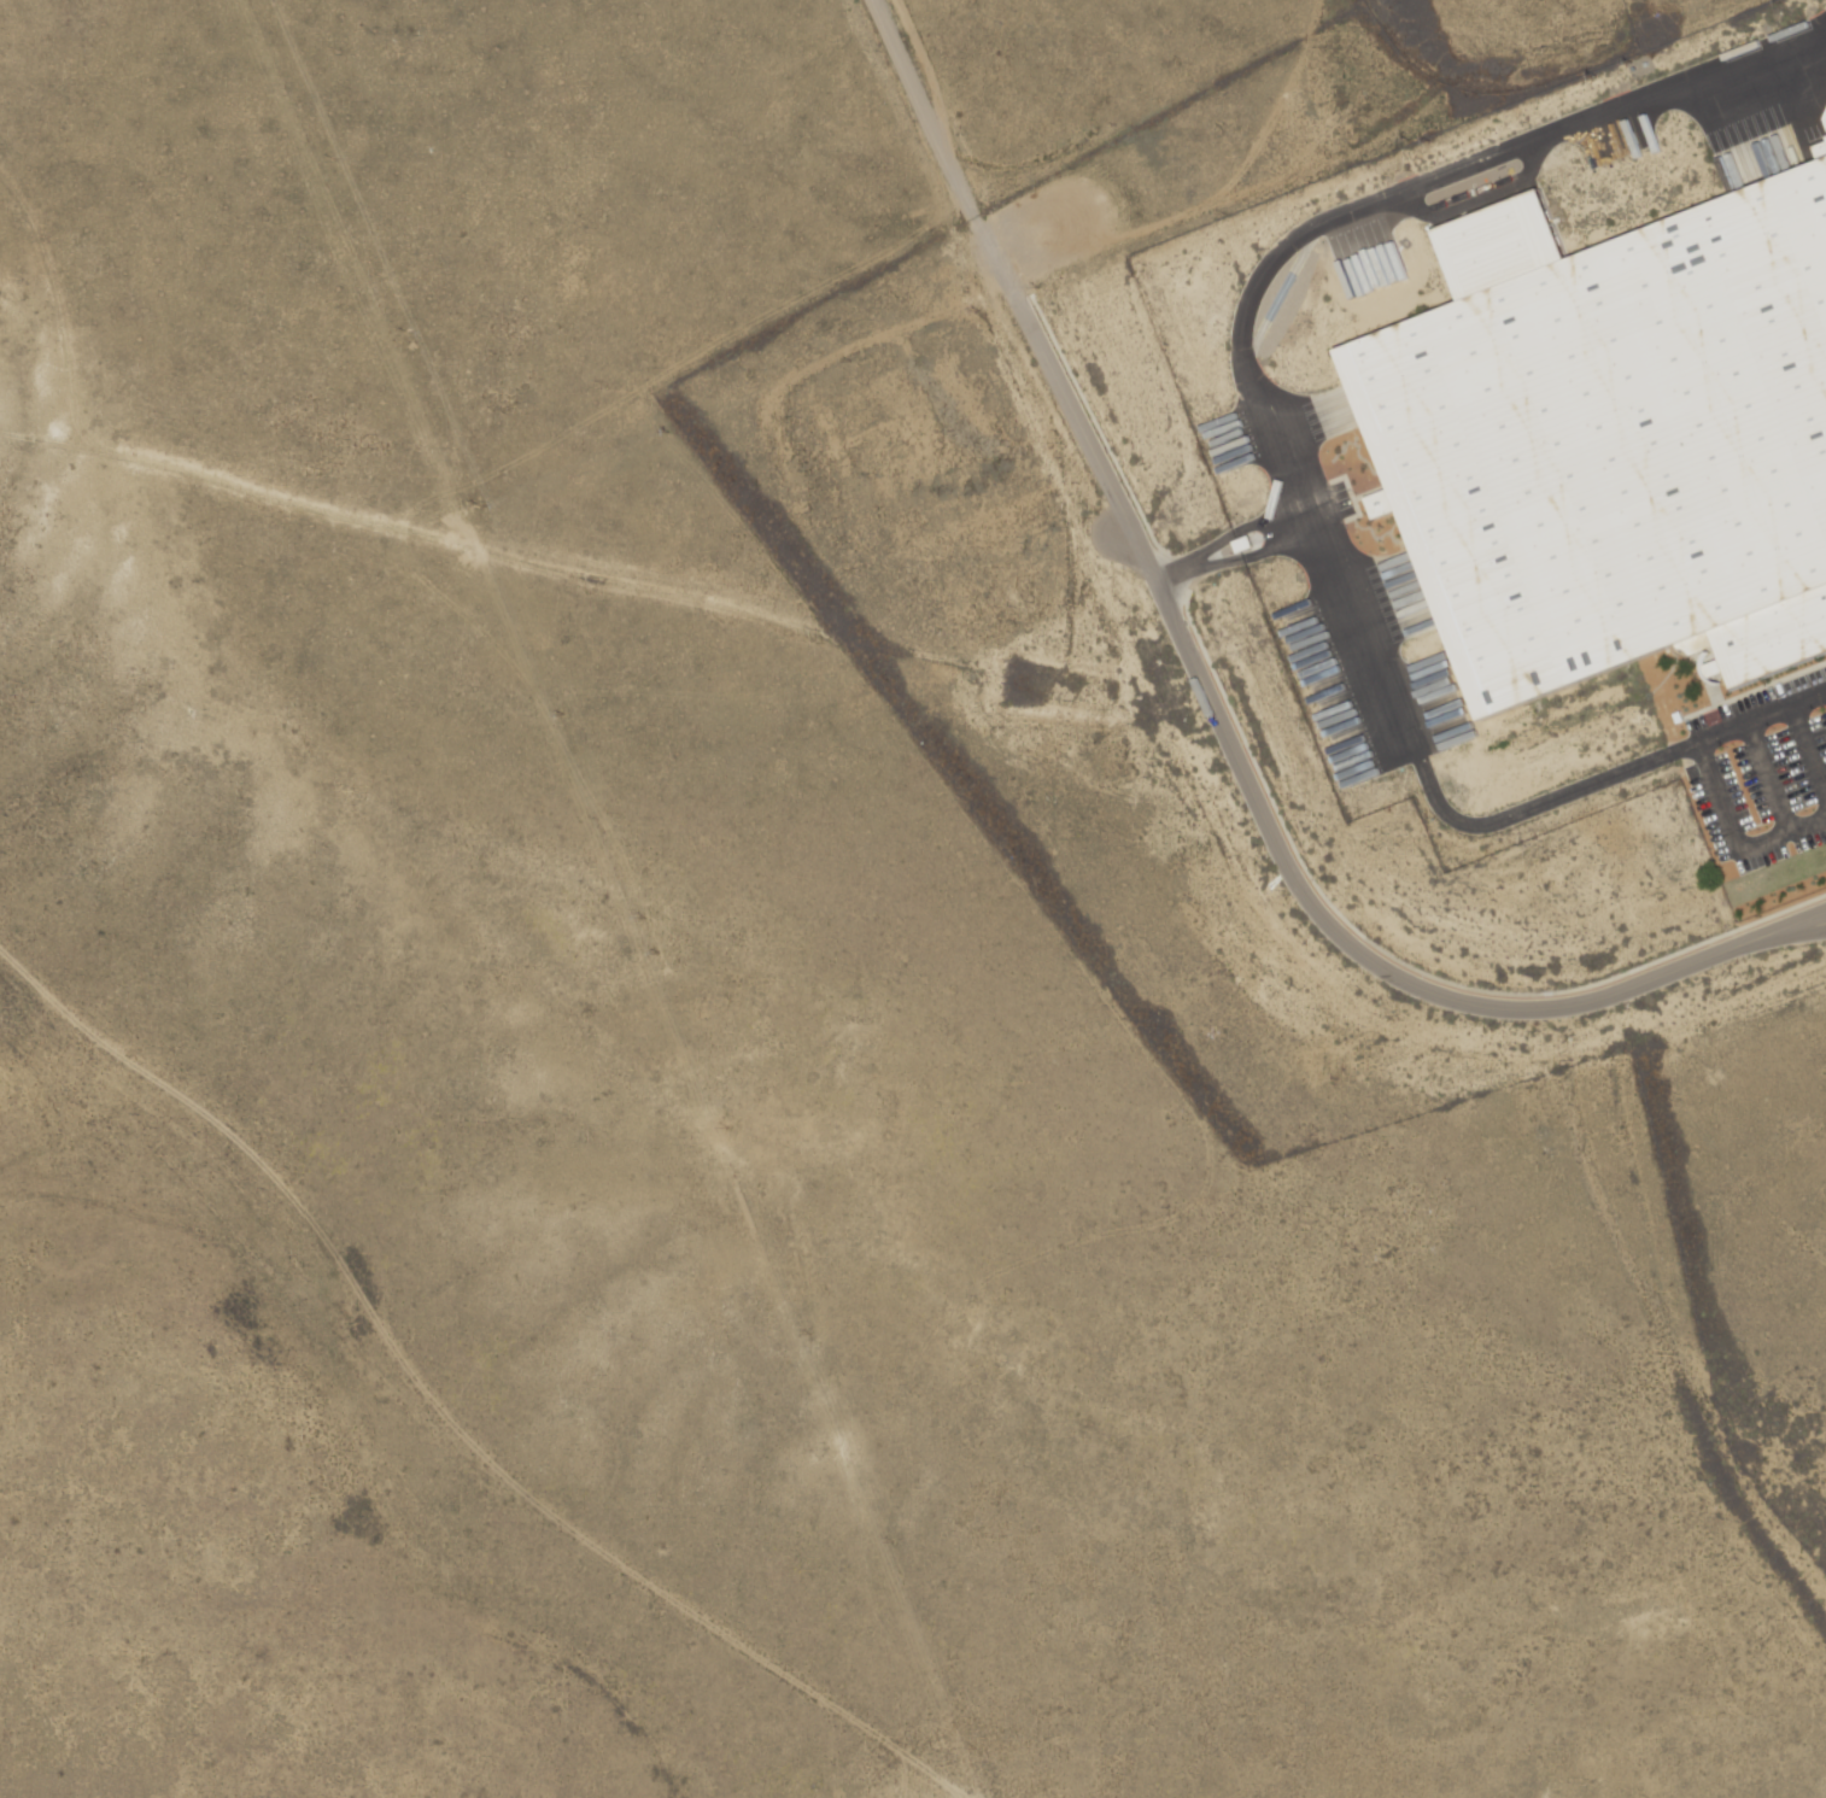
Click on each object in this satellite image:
building: (1824, 150)
road: (955, 157)
road: (1252, 390)
building: (1617, 440)
road: (1762, 722)
road: (1271, 837)
road: (1734, 841)
road: (1795, 924)
road: (1795, 935)

